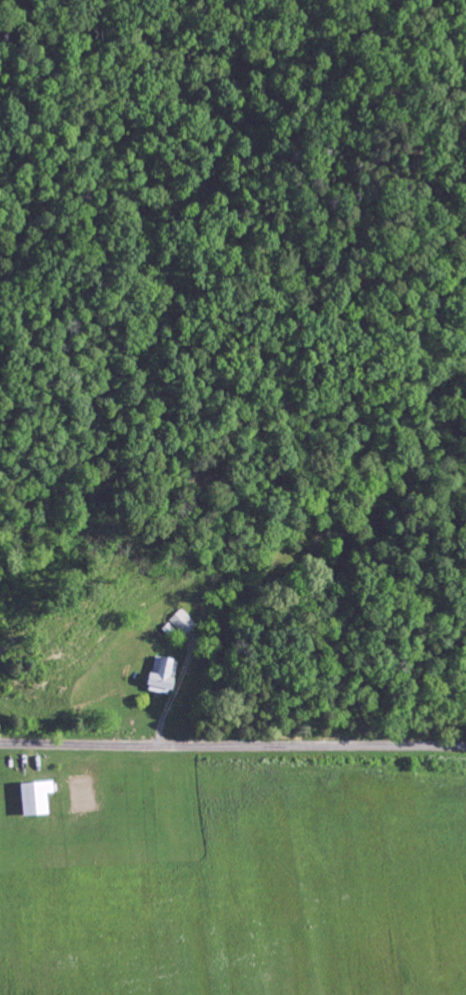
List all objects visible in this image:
building: (160, 676)
road: (232, 749)
building: (32, 797)

